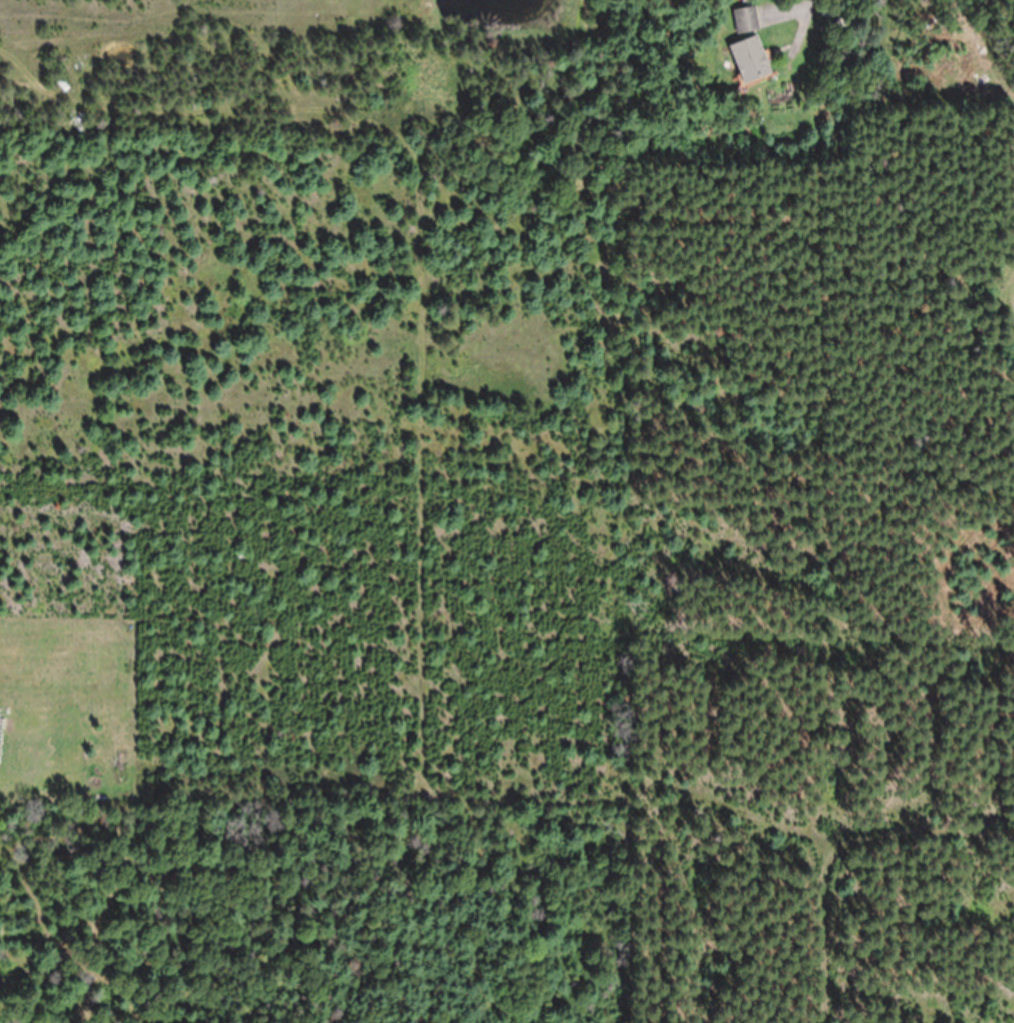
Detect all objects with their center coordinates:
building: (745, 21)
building: (749, 61)

